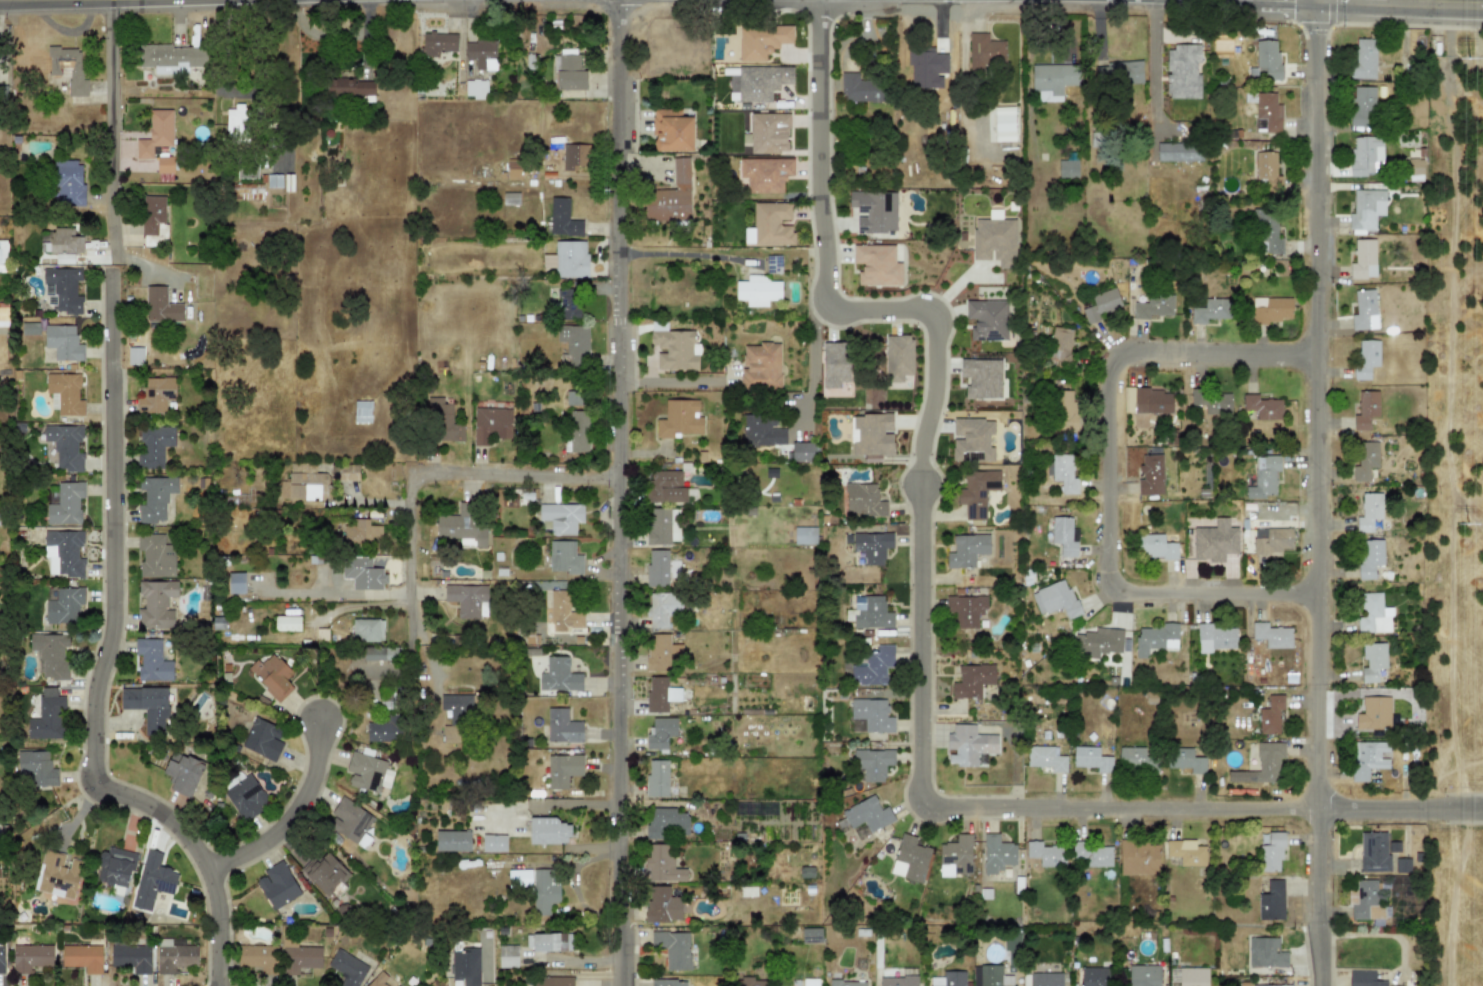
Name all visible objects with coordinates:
road: (53, 1)
road: (1397, 1)
building: (761, 41)
building: (437, 43)
building: (984, 51)
building: (480, 54)
building: (171, 58)
building: (1363, 58)
building: (1267, 60)
building: (67, 68)
road: (1154, 68)
building: (1182, 72)
building: (569, 73)
building: (1052, 80)
building: (761, 82)
building: (347, 85)
building: (861, 88)
building: (475, 89)
road: (242, 93)
building: (1361, 104)
building: (1268, 111)
building: (1003, 123)
building: (236, 124)
road: (110, 128)
building: (671, 131)
building: (769, 132)
building: (155, 133)
building: (1178, 151)
building: (1364, 154)
building: (574, 156)
building: (164, 164)
building: (1067, 169)
building: (513, 170)
building: (1267, 171)
building: (764, 174)
building: (69, 183)
building: (671, 193)
building: (510, 198)
building: (873, 211)
building: (562, 219)
building: (153, 220)
building: (771, 224)
building: (1267, 232)
building: (748, 236)
building: (994, 241)
building: (65, 244)
road: (681, 252)
building: (570, 259)
building: (1363, 259)
building: (773, 264)
building: (877, 265)
building: (65, 289)
building: (757, 290)
building: (566, 301)
building: (1100, 305)
building: (161, 306)
building: (1153, 306)
building: (1210, 310)
building: (1271, 310)
building: (1364, 310)
building: (987, 319)
building: (63, 342)
building: (573, 343)
building: (1060, 347)
building: (674, 350)
building: (1366, 358)
building: (898, 361)
building: (835, 364)
building: (760, 366)
road: (814, 366)
building: (981, 377)
road: (666, 384)
building: (65, 392)
building: (156, 394)
building: (574, 397)
building: (1151, 400)
building: (1212, 401)
building: (1262, 407)
building: (1365, 409)
building: (1065, 410)
building: (362, 411)
building: (679, 419)
building: (444, 422)
building: (491, 424)
building: (761, 430)
building: (577, 432)
building: (872, 436)
building: (971, 439)
building: (66, 446)
building: (154, 446)
building: (800, 452)
building: (1365, 460)
road: (1104, 465)
building: (344, 472)
building: (1063, 473)
building: (1150, 475)
road: (432, 476)
building: (1263, 477)
building: (304, 486)
building: (665, 486)
road: (613, 492)
building: (976, 492)
road: (1312, 493)
building: (154, 497)
building: (863, 502)
building: (65, 504)
building: (1368, 511)
building: (560, 517)
building: (662, 527)
building: (461, 529)
building: (362, 532)
building: (1064, 536)
building: (1272, 539)
building: (1214, 541)
building: (872, 546)
building: (1156, 547)
building: (967, 549)
building: (63, 553)
building: (155, 556)
building: (563, 557)
building: (1368, 557)
building: (657, 566)
building: (362, 573)
building: (236, 583)
road: (349, 592)
building: (466, 599)
building: (1055, 599)
building: (156, 603)
building: (64, 605)
building: (662, 608)
building: (965, 610)
building: (561, 612)
building: (869, 612)
building: (1373, 614)
building: (287, 623)
road: (919, 627)
building: (367, 629)
building: (1271, 635)
building: (1215, 637)
building: (1155, 638)
building: (1098, 641)
building: (660, 652)
building: (374, 653)
building: (50, 654)
building: (151, 660)
building: (1372, 661)
road: (99, 662)
building: (871, 665)
building: (271, 675)
building: (555, 675)
building: (972, 680)
building: (660, 694)
building: (147, 706)
building: (871, 714)
building: (1373, 714)
building: (456, 715)
building: (1270, 715)
building: (47, 717)
building: (562, 727)
building: (384, 729)
building: (660, 732)
building: (263, 739)
building: (969, 745)
building: (1045, 758)
building: (1366, 758)
building: (1091, 759)
building: (1135, 759)
building: (1185, 760)
building: (872, 763)
building: (1262, 764)
building: (35, 768)
building: (562, 770)
building: (368, 772)
building: (182, 773)
building: (656, 778)
building: (245, 798)
building: (867, 814)
building: (351, 818)
road: (291, 821)
building: (664, 821)
building: (547, 831)
building: (452, 841)
building: (494, 843)
building: (1270, 851)
building: (1186, 852)
building: (1375, 852)
building: (997, 853)
building: (1045, 854)
building: (1092, 854)
building: (955, 856)
building: (1138, 857)
building: (909, 859)
building: (662, 863)
building: (1401, 865)
building: (115, 867)
building: (324, 873)
building: (58, 875)
building: (520, 878)
building: (152, 880)
building: (277, 885)
building: (543, 891)
building: (1271, 901)
building: (1366, 902)
building: (662, 905)
building: (811, 935)
building: (546, 942)
building: (673, 948)
building: (1265, 952)
building: (507, 956)
building: (30, 957)
building: (258, 957)
building: (299, 957)
building: (82, 958)
building: (131, 958)
building: (175, 958)
building: (1, 959)
building: (465, 967)
building: (346, 968)
building: (1143, 975)
building: (990, 976)
building: (1094, 976)
building: (1189, 976)
building: (1363, 978)
building: (377, 979)
building: (948, 979)
building: (1045, 979)
building: (555, 981)
building: (751, 981)
building: (898, 981)
building: (668, 982)
building: (809, 982)
building: (847, 983)
building: (1277, 985)

